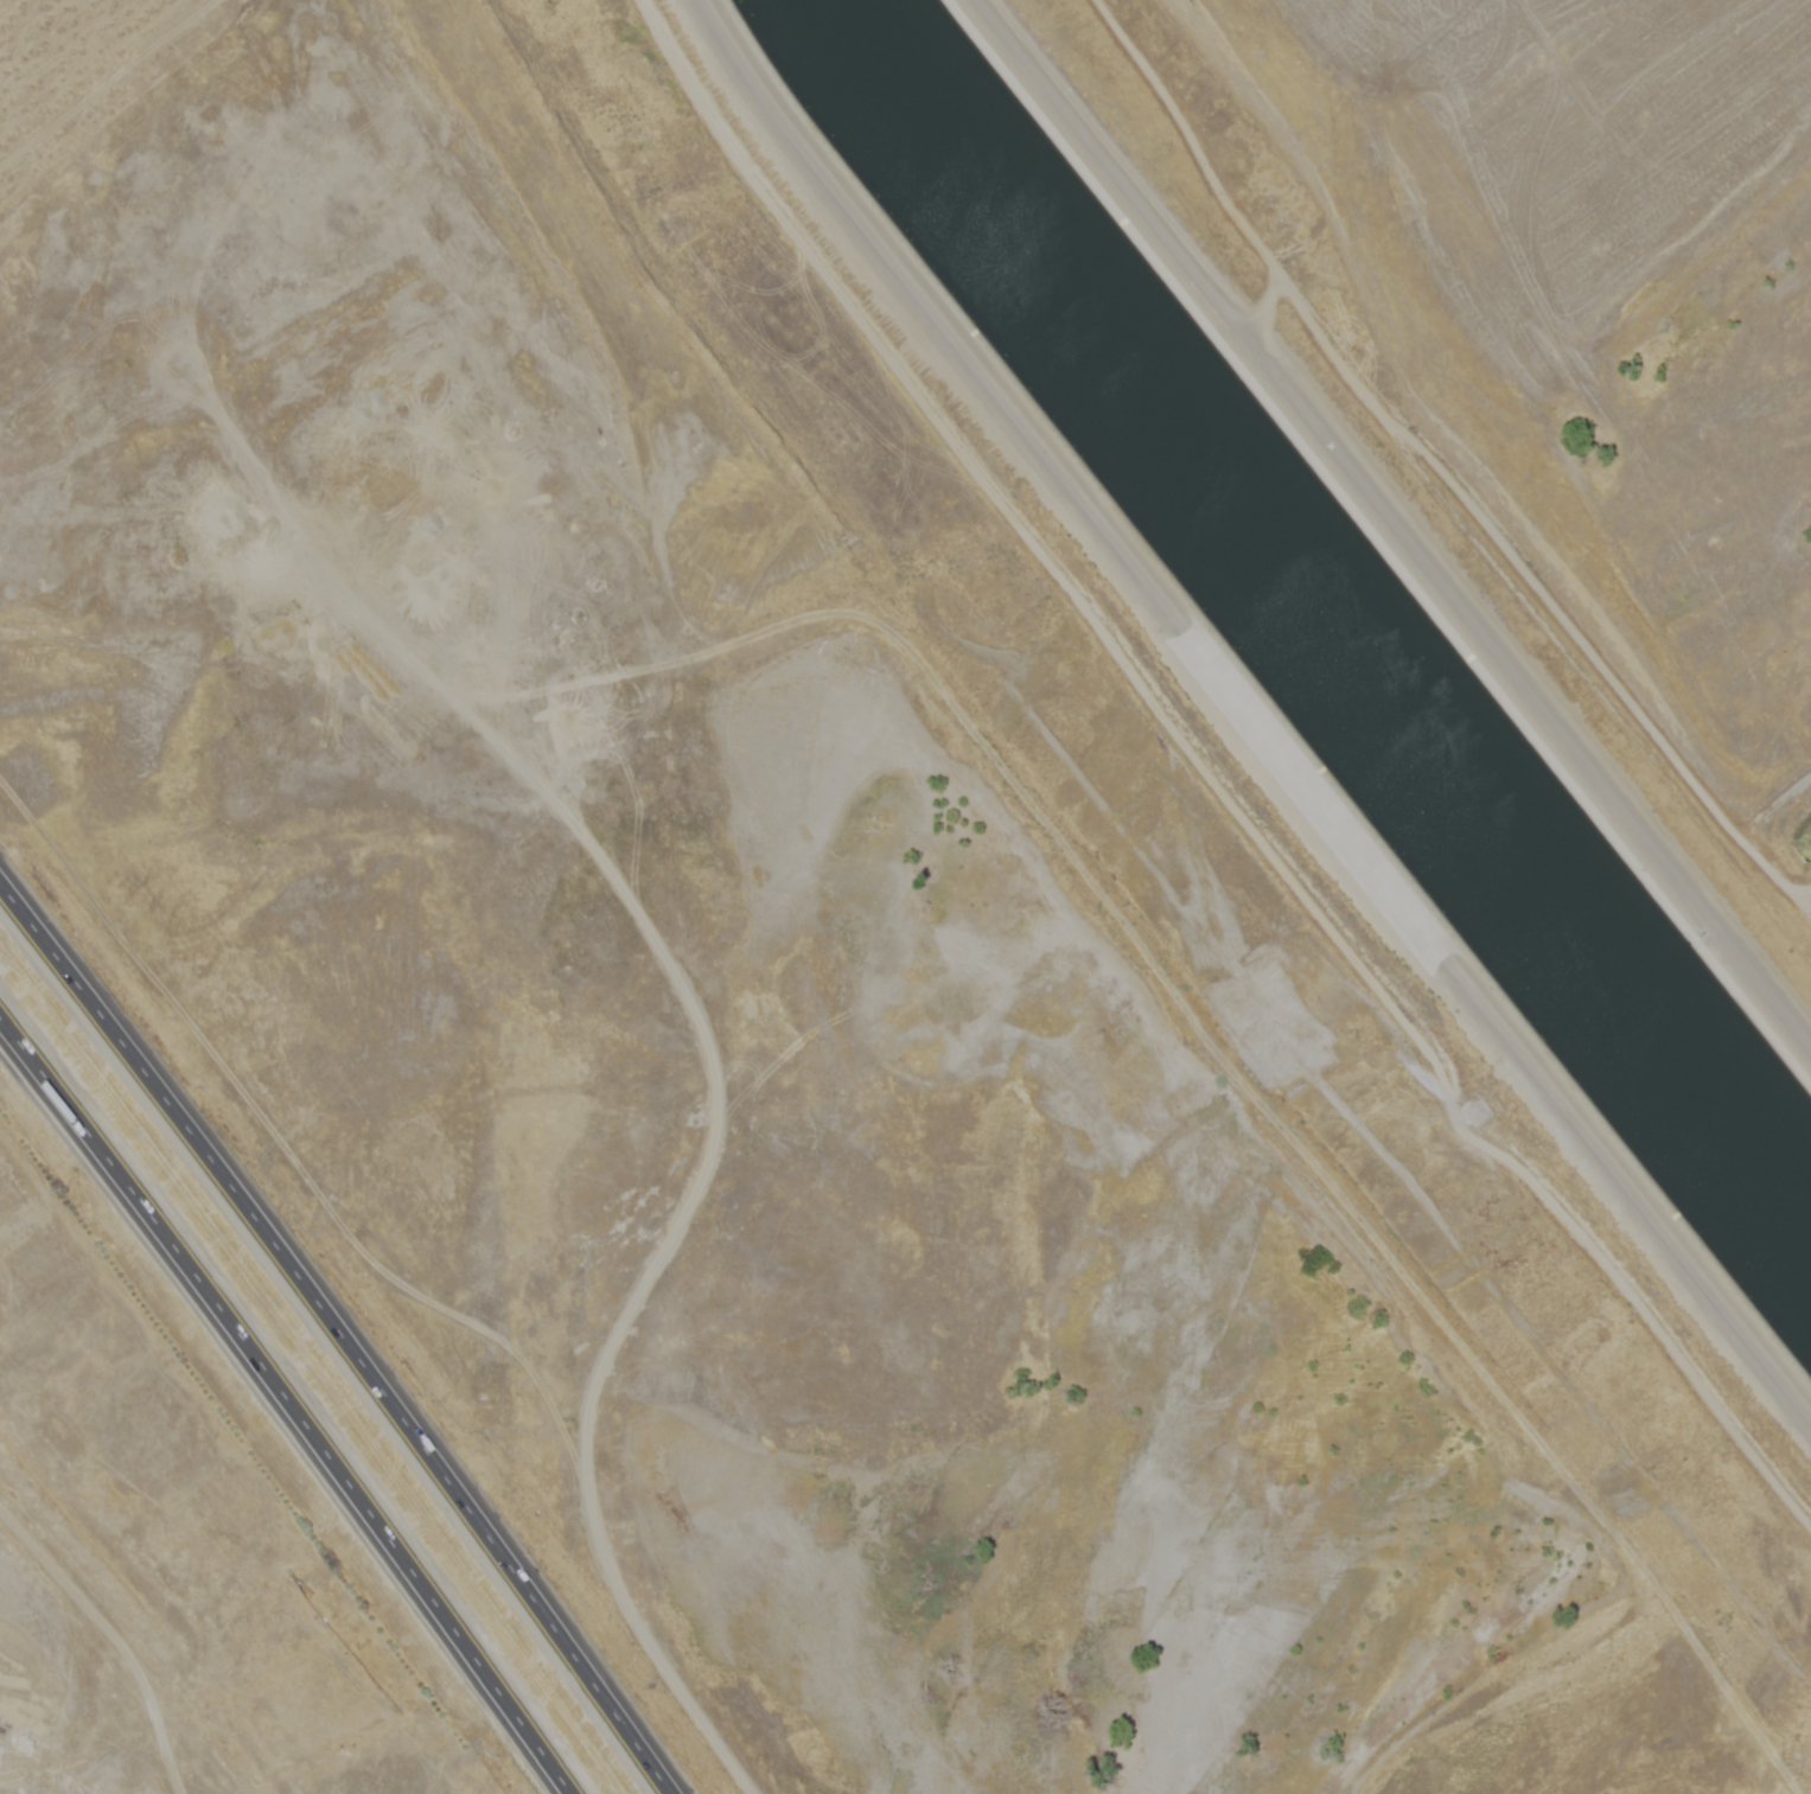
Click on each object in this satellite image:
crop: (65, 53)
road: (708, 1067)
road: (340, 1337)
road: (292, 1404)
quarry: (71, 1720)

